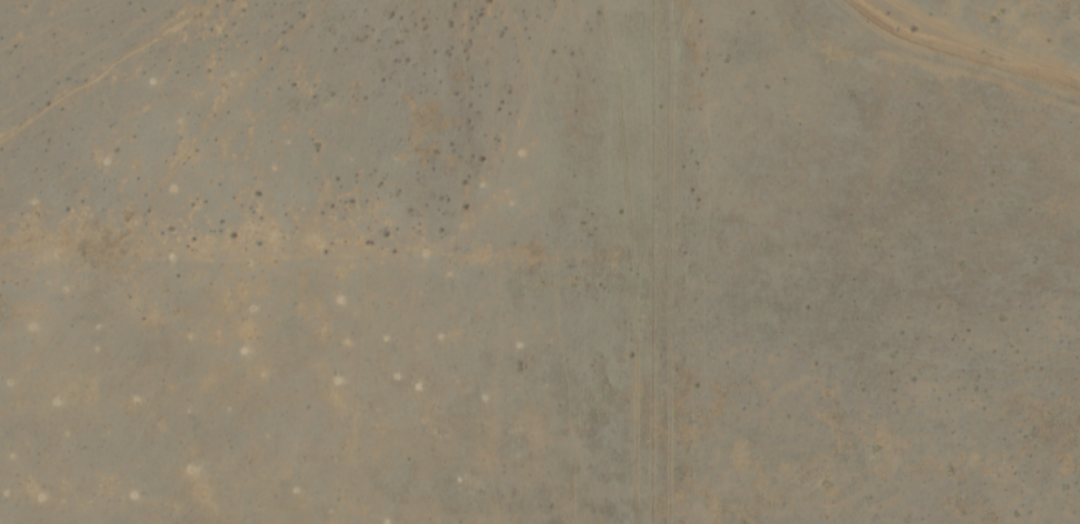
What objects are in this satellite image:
road: (928, 75)

